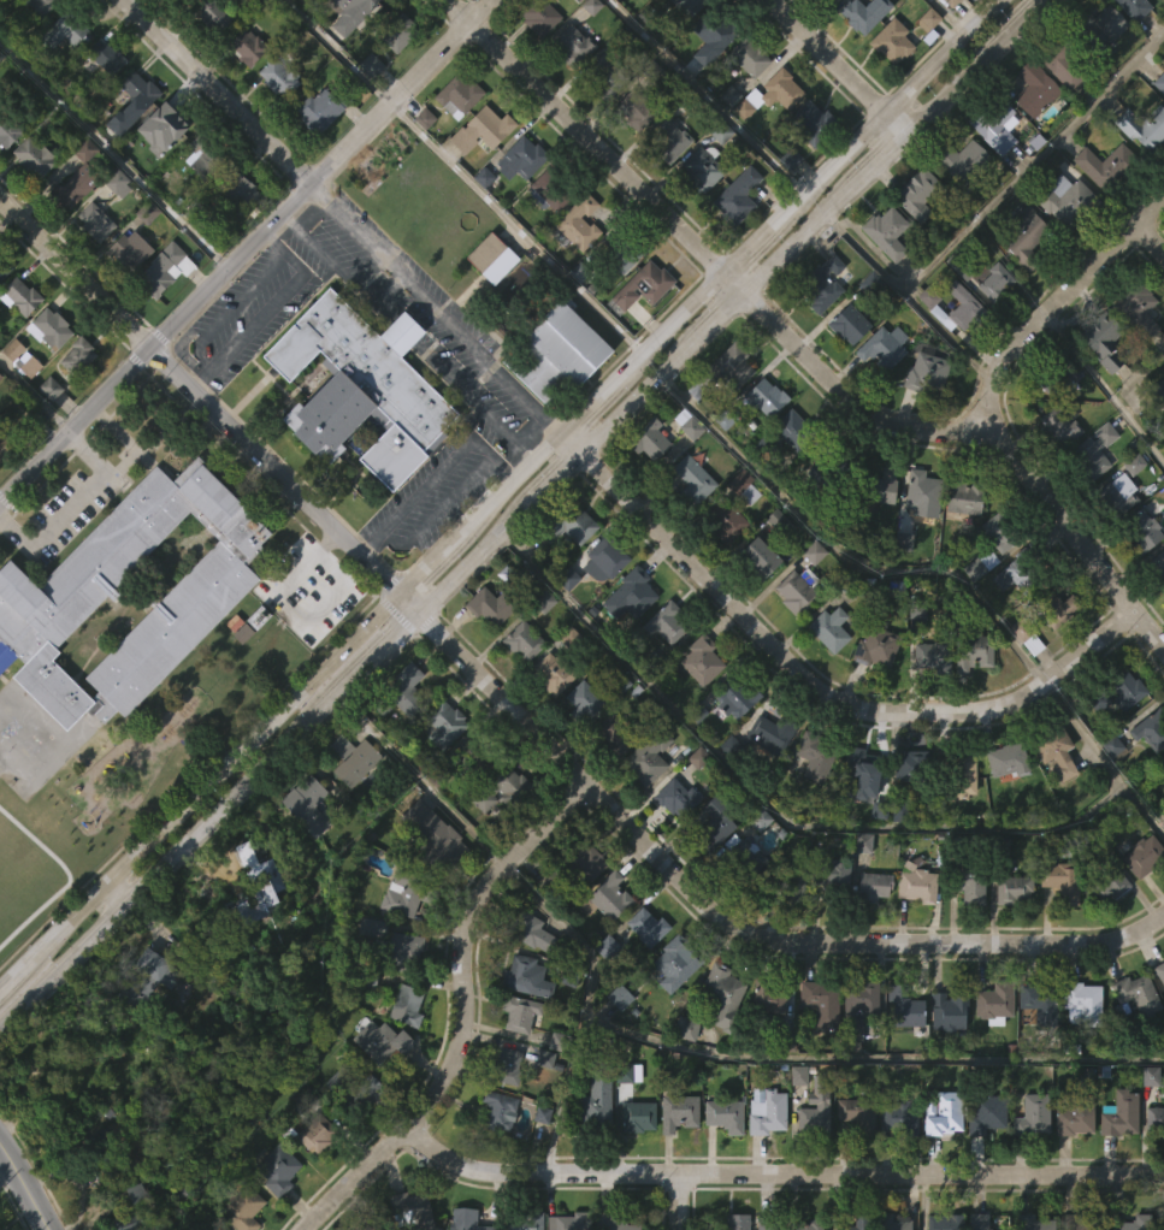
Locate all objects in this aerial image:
building: (828, 1)
building: (147, 5)
building: (689, 5)
building: (39, 6)
building: (472, 6)
building: (590, 6)
building: (794, 6)
building: (1134, 7)
building: (330, 8)
building: (1153, 8)
building: (4, 10)
building: (354, 10)
building: (651, 11)
building: (963, 12)
building: (864, 13)
building: (207, 16)
building: (538, 16)
road: (950, 17)
building: (826, 20)
building: (288, 24)
building: (928, 24)
building: (1099, 25)
building: (717, 28)
building: (63, 30)
building: (397, 32)
building: (1125, 35)
building: (35, 41)
building: (892, 41)
building: (946, 41)
building: (354, 43)
building: (679, 43)
building: (575, 46)
building: (246, 47)
road: (337, 52)
building: (107, 55)
building: (746, 57)
building: (861, 58)
building: (1064, 58)
building: (212, 61)
building: (536, 61)
building: (372, 64)
building: (923, 64)
road: (834, 66)
building: (278, 73)
building: (1097, 73)
building: (715, 75)
building: (64, 76)
building: (605, 77)
building: (396, 78)
building: (1159, 81)
building: (887, 88)
building: (1035, 88)
building: (568, 90)
road: (218, 91)
building: (244, 91)
building: (729, 93)
building: (773, 93)
building: (137, 95)
building: (457, 95)
road: (709, 97)
building: (104, 102)
building: (745, 102)
building: (320, 108)
building: (368, 110)
building: (636, 110)
building: (1060, 111)
building: (429, 117)
building: (602, 120)
building: (274, 123)
building: (814, 123)
building: (993, 124)
building: (1144, 128)
building: (480, 130)
building: (6, 132)
building: (1030, 135)
building: (670, 137)
building: (767, 140)
building: (455, 141)
building: (727, 141)
building: (130, 147)
building: (315, 154)
building: (201, 156)
building: (524, 156)
building: (631, 156)
building: (31, 158)
road: (112, 158)
building: (791, 158)
building: (421, 164)
building: (963, 164)
building: (1106, 165)
building: (808, 166)
building: (704, 168)
building: (159, 172)
building: (993, 172)
building: (1142, 173)
building: (486, 175)
building: (6, 178)
building: (117, 183)
building: (666, 187)
building: (75, 188)
building: (551, 190)
building: (918, 190)
building: (235, 191)
road: (998, 193)
building: (737, 196)
building: (1068, 201)
building: (30, 202)
building: (516, 203)
building: (786, 203)
building: (957, 205)
building: (199, 207)
building: (1103, 211)
building: (698, 214)
building: (93, 221)
building: (480, 223)
building: (577, 224)
road: (519, 229)
building: (116, 230)
building: (73, 231)
building: (886, 232)
building: (548, 235)
building: (1024, 236)
building: (236, 237)
building: (915, 240)
road: (1150, 240)
building: (734, 241)
building: (1063, 246)
building: (128, 250)
road: (246, 250)
building: (621, 252)
building: (491, 258)
building: (5, 266)
building: (93, 267)
road: (341, 268)
building: (575, 268)
building: (164, 270)
building: (885, 278)
building: (998, 283)
building: (822, 284)
building: (1021, 284)
building: (639, 288)
building: (20, 295)
building: (126, 295)
road: (704, 302)
road: (1054, 302)
road: (723, 306)
building: (969, 307)
building: (1136, 308)
road: (266, 309)
road: (384, 309)
road: (436, 309)
building: (495, 312)
building: (161, 314)
building: (2, 315)
building: (852, 321)
building: (992, 327)
building: (47, 329)
building: (819, 329)
road: (404, 330)
road: (941, 330)
building: (639, 331)
building: (1103, 338)
building: (18, 342)
building: (924, 342)
building: (886, 345)
building: (959, 350)
road: (799, 354)
building: (555, 355)
building: (1133, 355)
building: (76, 356)
building: (728, 367)
building: (845, 369)
building: (926, 372)
building: (1058, 373)
building: (47, 374)
road: (1105, 385)
building: (1100, 386)
building: (359, 390)
building: (880, 392)
building: (1156, 392)
building: (10, 395)
road: (201, 396)
building: (555, 398)
building: (764, 398)
road: (34, 400)
road: (475, 401)
building: (70, 407)
building: (24, 409)
building: (728, 410)
building: (922, 419)
building: (687, 422)
building: (1060, 424)
building: (794, 428)
building: (47, 433)
building: (1157, 433)
building: (650, 438)
building: (764, 442)
building: (5, 447)
building: (1093, 453)
building: (828, 465)
building: (1054, 473)
road: (435, 474)
building: (788, 474)
building: (692, 480)
building: (648, 485)
building: (743, 485)
building: (874, 486)
building: (924, 489)
building: (4, 491)
building: (965, 493)
building: (1091, 497)
road: (71, 504)
building: (728, 520)
building: (813, 520)
building: (568, 522)
building: (690, 526)
building: (1004, 528)
building: (1142, 530)
building: (879, 532)
building: (917, 532)
building: (1115, 539)
building: (961, 542)
building: (903, 545)
building: (758, 556)
road: (840, 556)
building: (605, 561)
building: (980, 564)
building: (1157, 564)
building: (721, 567)
building: (567, 569)
building: (1023, 572)
building: (1139, 575)
building: (994, 578)
building: (800, 590)
building: (57, 591)
building: (633, 591)
building: (604, 602)
building: (756, 602)
building: (489, 605)
road: (408, 607)
building: (1054, 607)
building: (1158, 607)
building: (976, 611)
road: (291, 614)
building: (916, 614)
building: (1010, 621)
building: (668, 622)
building: (832, 628)
building: (1026, 634)
building: (631, 635)
building: (792, 637)
building: (525, 640)
building: (876, 645)
building: (974, 646)
building: (484, 651)
building: (932, 652)
building: (1053, 652)
building: (703, 660)
building: (254, 662)
building: (663, 667)
building: (556, 673)
building: (826, 674)
building: (520, 686)
road: (813, 687)
building: (406, 690)
building: (1118, 691)
building: (735, 697)
building: (969, 699)
building: (583, 700)
building: (935, 702)
building: (698, 705)
building: (549, 717)
building: (442, 723)
building: (1151, 728)
building: (401, 732)
building: (614, 734)
building: (1122, 734)
building: (762, 735)
building: (733, 744)
building: (1093, 745)
building: (580, 746)
building: (1054, 750)
building: (479, 753)
building: (816, 755)
road: (1103, 755)
building: (648, 756)
building: (351, 759)
building: (1006, 761)
building: (911, 765)
building: (1162, 765)
building: (863, 768)
building: (441, 770)
building: (959, 773)
road: (421, 777)
building: (610, 779)
building: (766, 779)
building: (502, 790)
building: (726, 791)
building: (1107, 791)
road: (200, 797)
building: (679, 798)
building: (1053, 799)
building: (469, 800)
building: (811, 802)
building: (306, 803)
building: (645, 803)
road: (767, 803)
building: (349, 804)
building: (1003, 805)
building: (908, 810)
building: (1159, 810)
building: (859, 816)
road: (207, 818)
building: (958, 818)
building: (714, 823)
building: (496, 836)
building: (436, 842)
building: (673, 842)
building: (307, 851)
building: (875, 853)
building: (1145, 856)
building: (743, 857)
building: (573, 868)
building: (829, 869)
building: (711, 870)
building: (431, 879)
building: (967, 880)
building: (1062, 881)
building: (1109, 881)
building: (256, 883)
building: (790, 883)
building: (918, 883)
building: (873, 886)
building: (1014, 888)
building: (408, 892)
building: (609, 895)
building: (740, 899)
building: (1140, 900)
building: (583, 906)
building: (829, 917)
road: (732, 923)
building: (965, 926)
building: (1057, 926)
building: (646, 927)
building: (914, 927)
building: (788, 929)
building: (528, 930)
building: (1104, 930)
building: (254, 932)
building: (869, 932)
building: (1009, 934)
building: (607, 941)
building: (397, 952)
building: (676, 960)
building: (644, 971)
building: (1159, 971)
building: (520, 972)
building: (144, 982)
building: (721, 993)
building: (1138, 994)
building: (767, 998)
building: (1039, 1001)
building: (994, 1003)
building: (1082, 1004)
building: (406, 1005)
building: (905, 1006)
building: (672, 1009)
building: (947, 1011)
building: (519, 1012)
road: (463, 1013)
building: (859, 1013)
building: (156, 1015)
building: (1158, 1018)
building: (684, 1028)
building: (1133, 1039)
building: (719, 1040)
building: (380, 1041)
building: (616, 1041)
building: (766, 1042)
building: (1035, 1046)
building: (817, 1047)
building: (1079, 1047)
building: (991, 1048)
building: (403, 1051)
building: (855, 1052)
building: (900, 1052)
building: (47, 1055)
building: (944, 1057)
road: (780, 1058)
building: (509, 1068)
building: (627, 1072)
building: (683, 1072)
building: (355, 1078)
building: (378, 1087)
road: (562, 1089)
building: (593, 1104)
building: (816, 1107)
building: (498, 1110)
building: (767, 1111)
building: (678, 1112)
building: (945, 1112)
building: (987, 1113)
building: (639, 1114)
building: (725, 1114)
building: (858, 1114)
building: (1032, 1114)
building: (1076, 1114)
building: (1119, 1114)
building: (900, 1118)
building: (1154, 1118)
building: (794, 1119)
building: (314, 1134)
building: (354, 1143)
building: (592, 1148)
building: (495, 1154)
building: (101, 1155)
building: (763, 1155)
building: (675, 1158)
building: (811, 1158)
building: (855, 1159)
building: (941, 1159)
building: (979, 1159)
building: (1032, 1159)
building: (721, 1160)
building: (1117, 1160)
building: (634, 1161)
building: (1152, 1161)
building: (896, 1164)
building: (1070, 1165)
road: (4, 1169)
building: (277, 1169)
road: (778, 1173)
building: (314, 1178)
road: (23, 1190)
road: (679, 1201)
road: (770, 1201)
building: (241, 1208)
building: (130, 1210)
building: (274, 1211)
building: (409, 1211)
building: (468, 1219)
building: (527, 1220)
building: (569, 1222)
building: (614, 1222)
building: (737, 1222)
building: (892, 1222)
building: (945, 1222)
building: (979, 1222)
building: (802, 1223)
building: (859, 1223)
building: (1033, 1223)
building: (1081, 1223)
building: (1134, 1223)
building: (1162, 1223)
building: (370, 1225)

